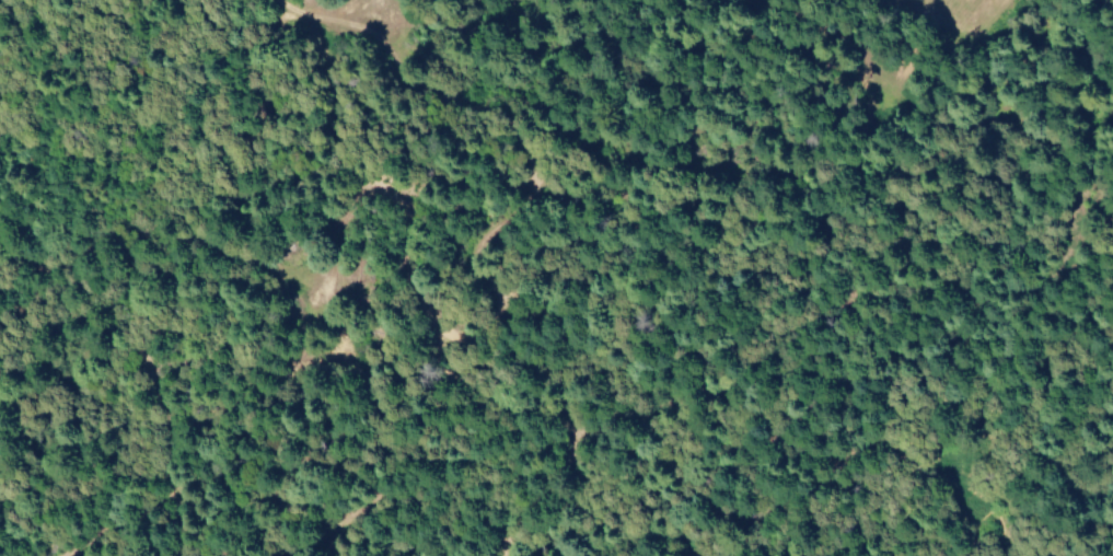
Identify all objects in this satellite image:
road: (337, 232)
road: (1031, 375)
road: (651, 545)

